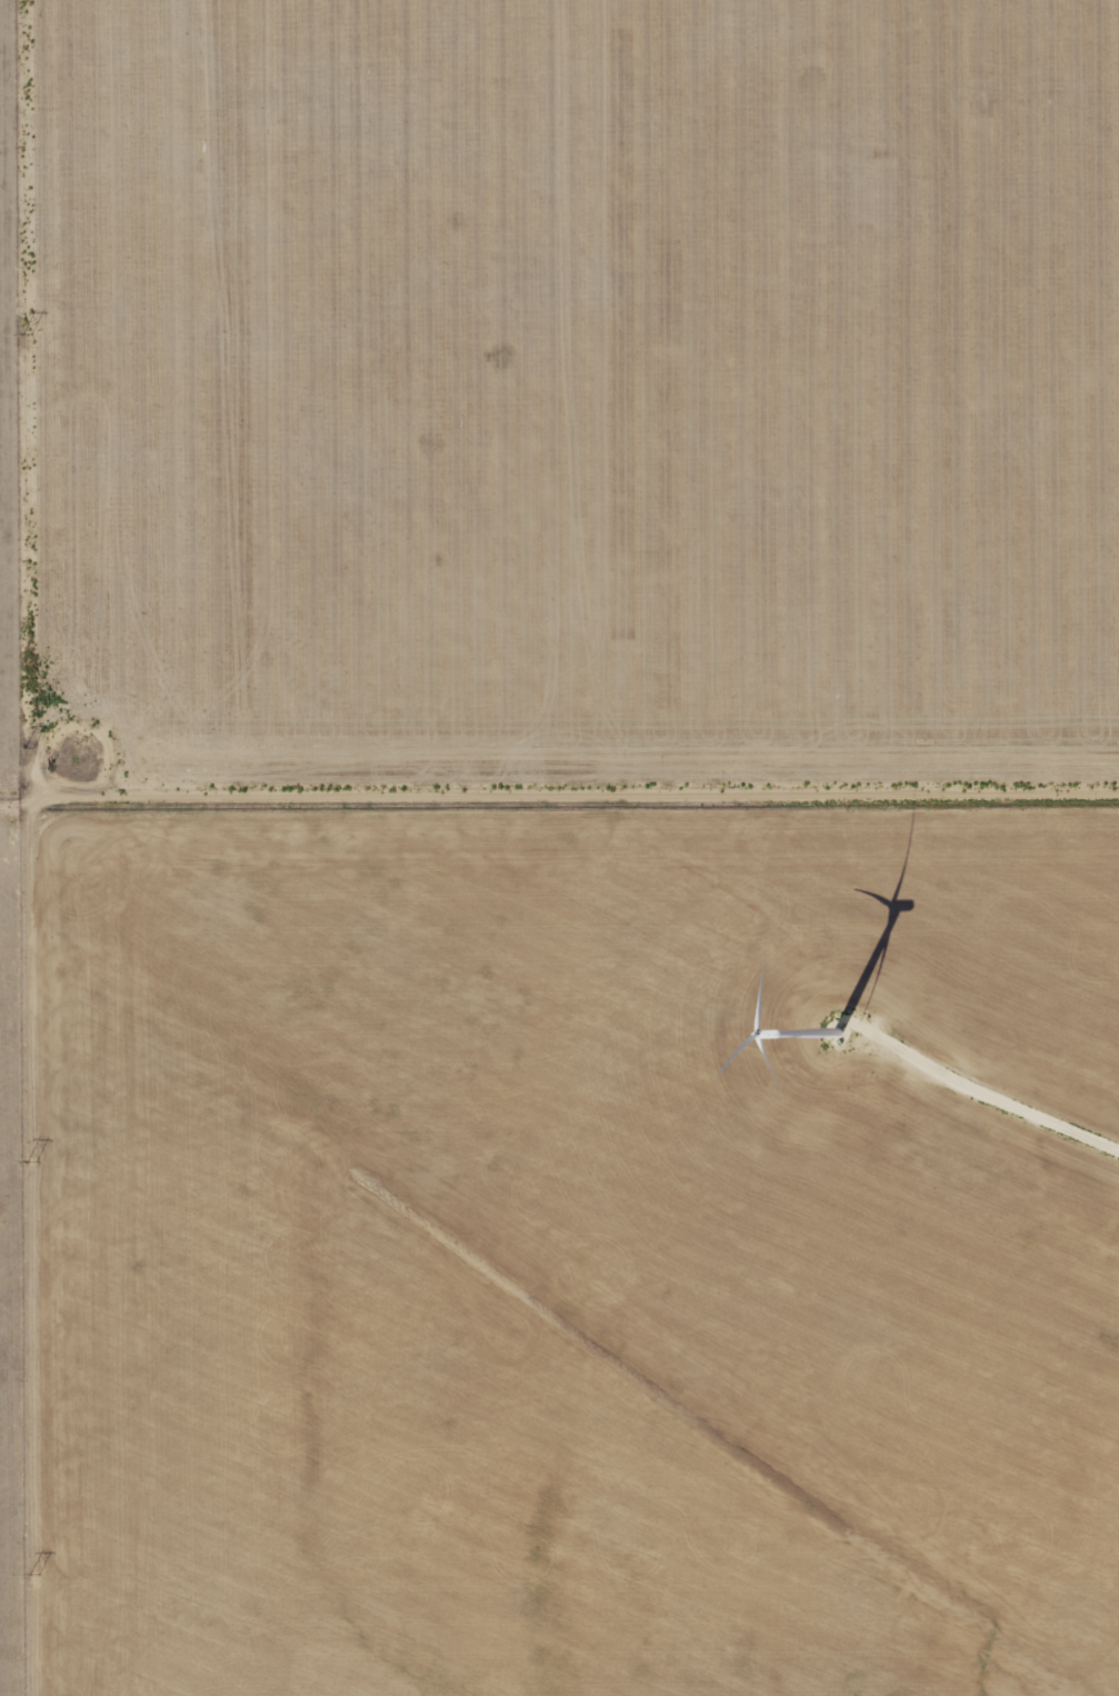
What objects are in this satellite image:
road: (571, 796)
wind turbine: (837, 1040)
road: (977, 1093)

